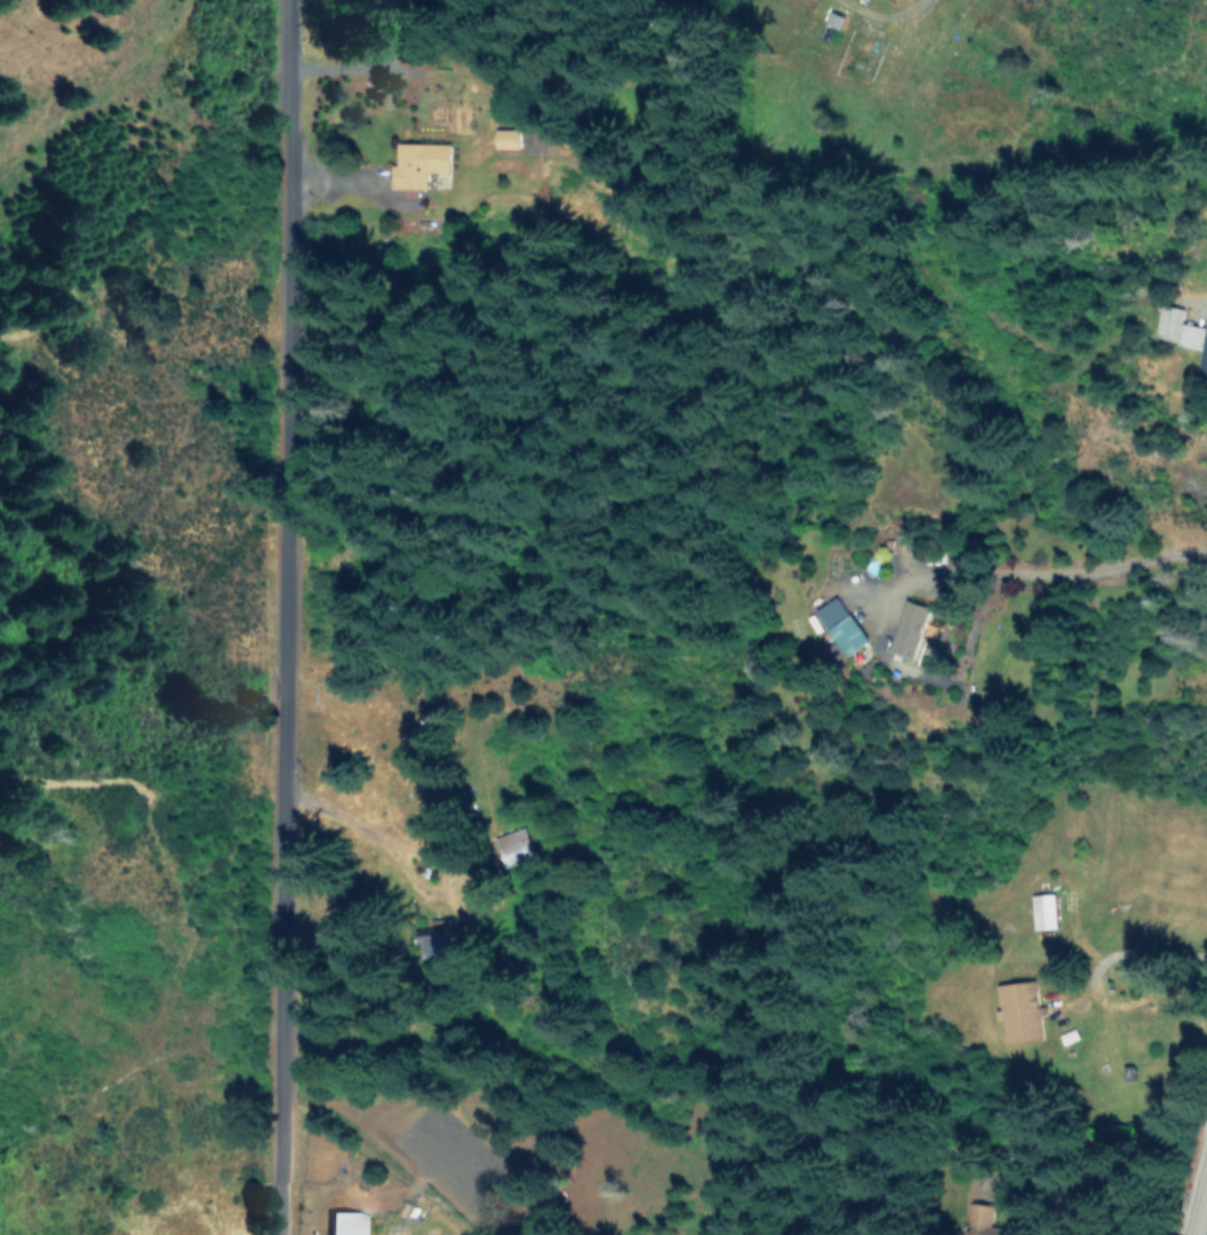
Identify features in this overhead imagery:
road: (879, 6)
building: (509, 137)
building: (420, 161)
building: (1180, 332)
road: (1059, 559)
road: (290, 616)
building: (839, 624)
building: (910, 627)
building: (991, 705)
building: (1043, 910)
building: (1020, 1011)
road: (1202, 1220)
building: (347, 1223)

